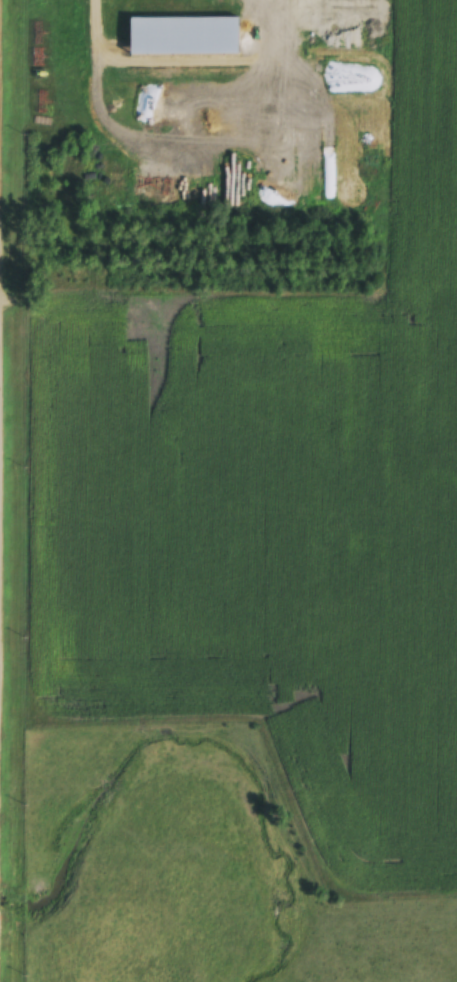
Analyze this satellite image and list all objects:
building: (272, 26)

